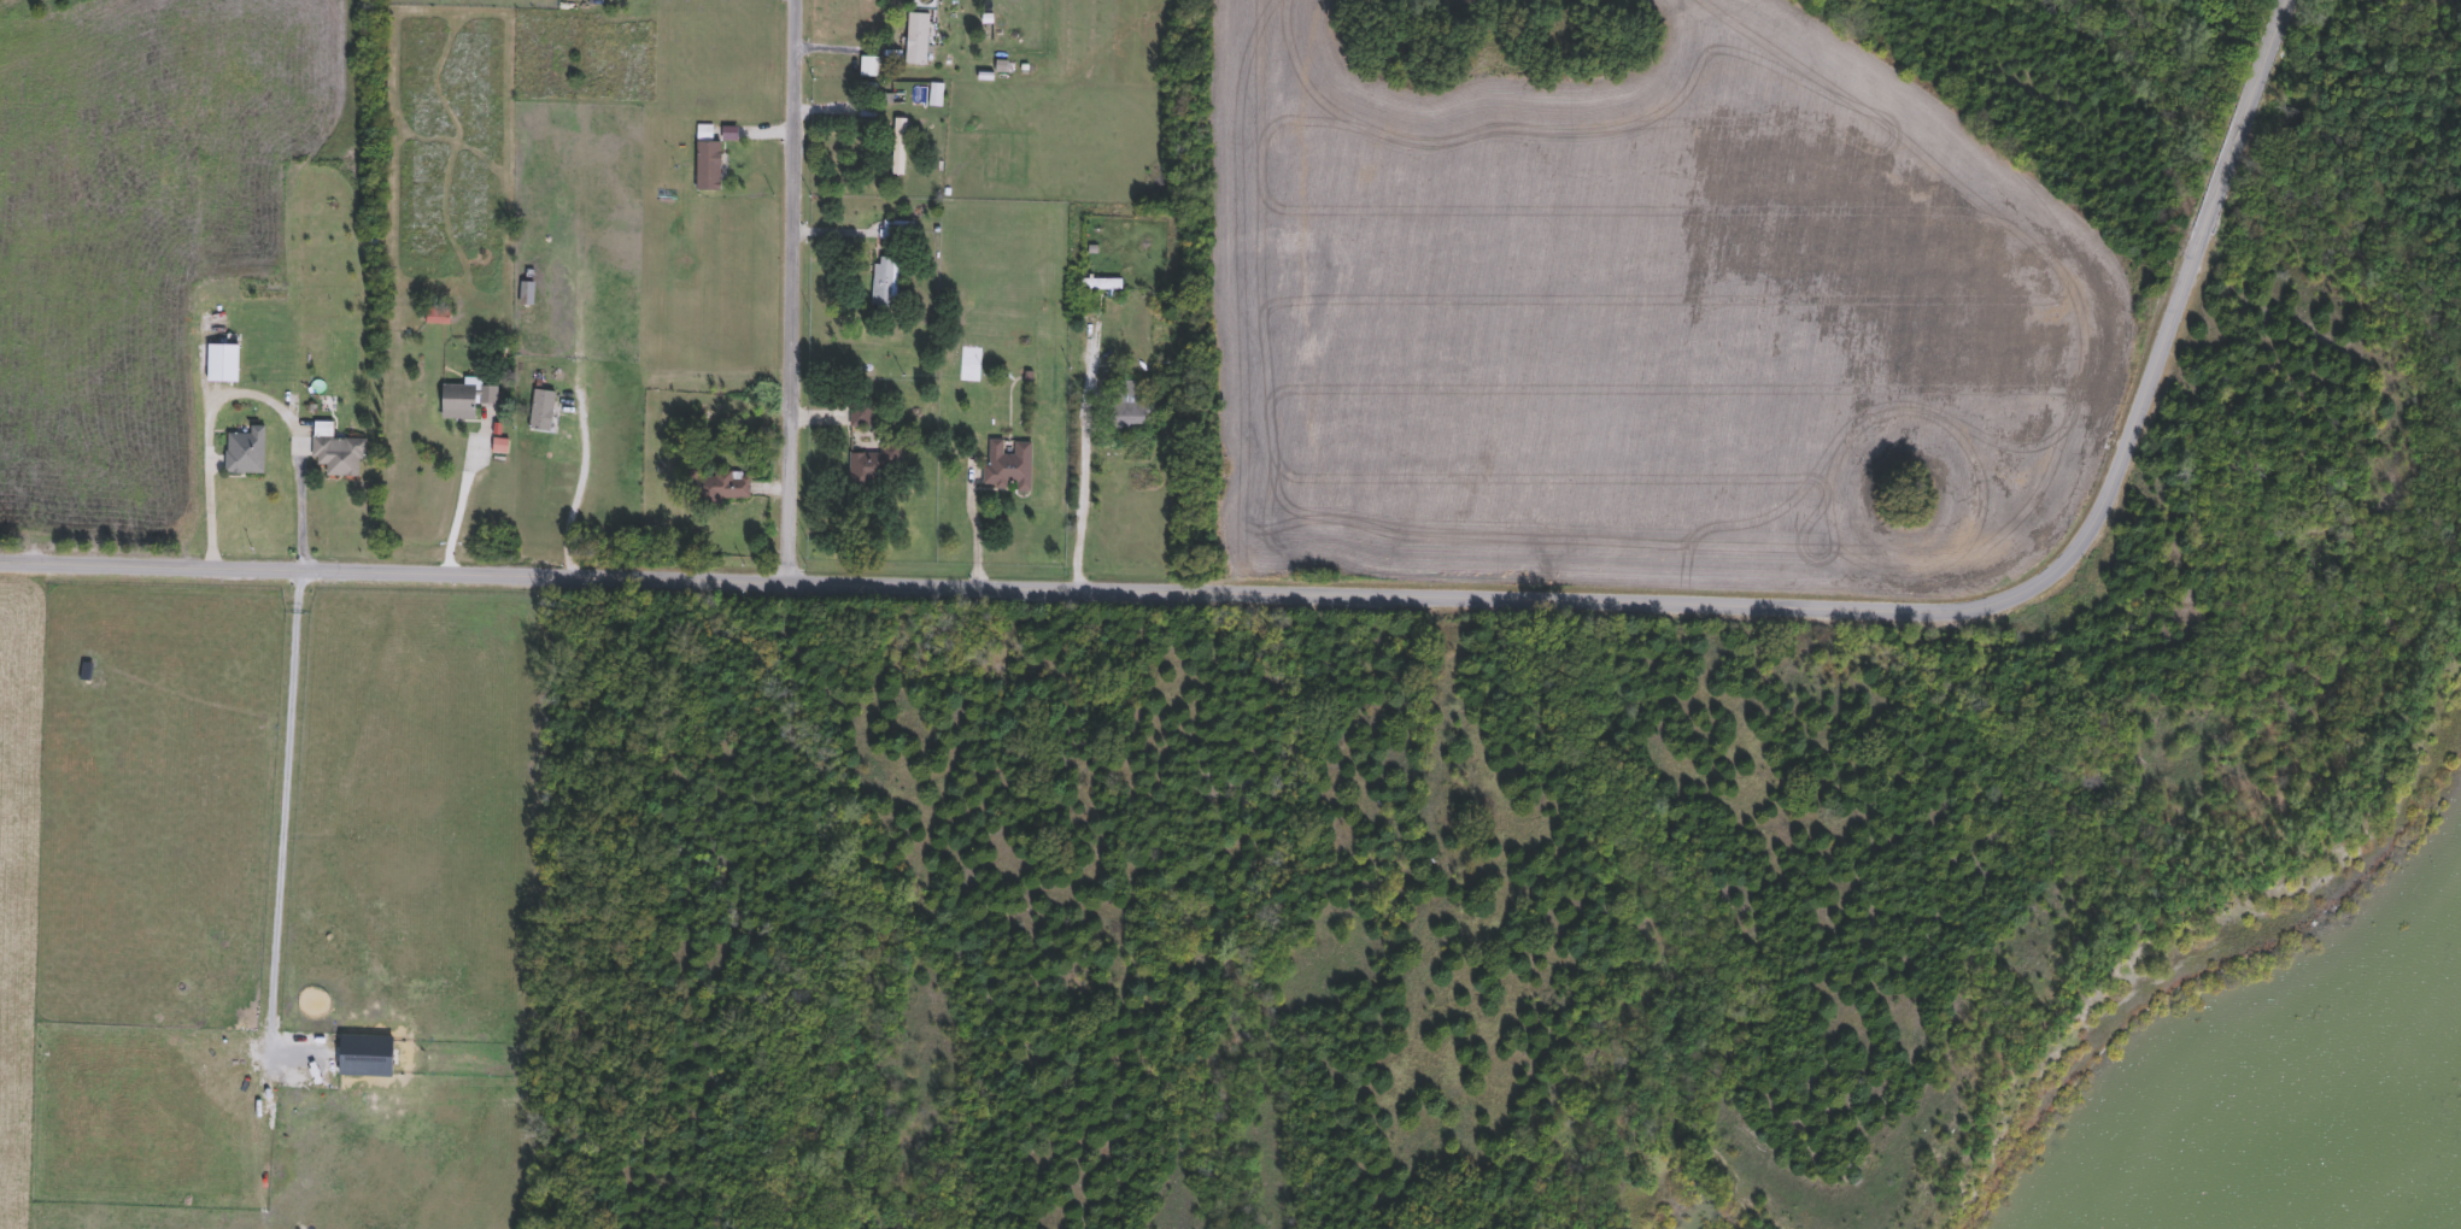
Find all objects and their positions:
building: (916, 40)
road: (845, 49)
building: (898, 147)
building: (708, 166)
building: (897, 231)
building: (1100, 286)
building: (883, 287)
road: (791, 292)
building: (436, 316)
building: (221, 363)
road: (248, 393)
building: (465, 400)
building: (1131, 408)
building: (541, 412)
building: (860, 413)
building: (244, 452)
building: (336, 452)
road: (1084, 455)
building: (1008, 464)
building: (872, 466)
road: (576, 482)
building: (717, 486)
road: (462, 500)
road: (975, 529)
road: (1343, 595)
road: (287, 808)

